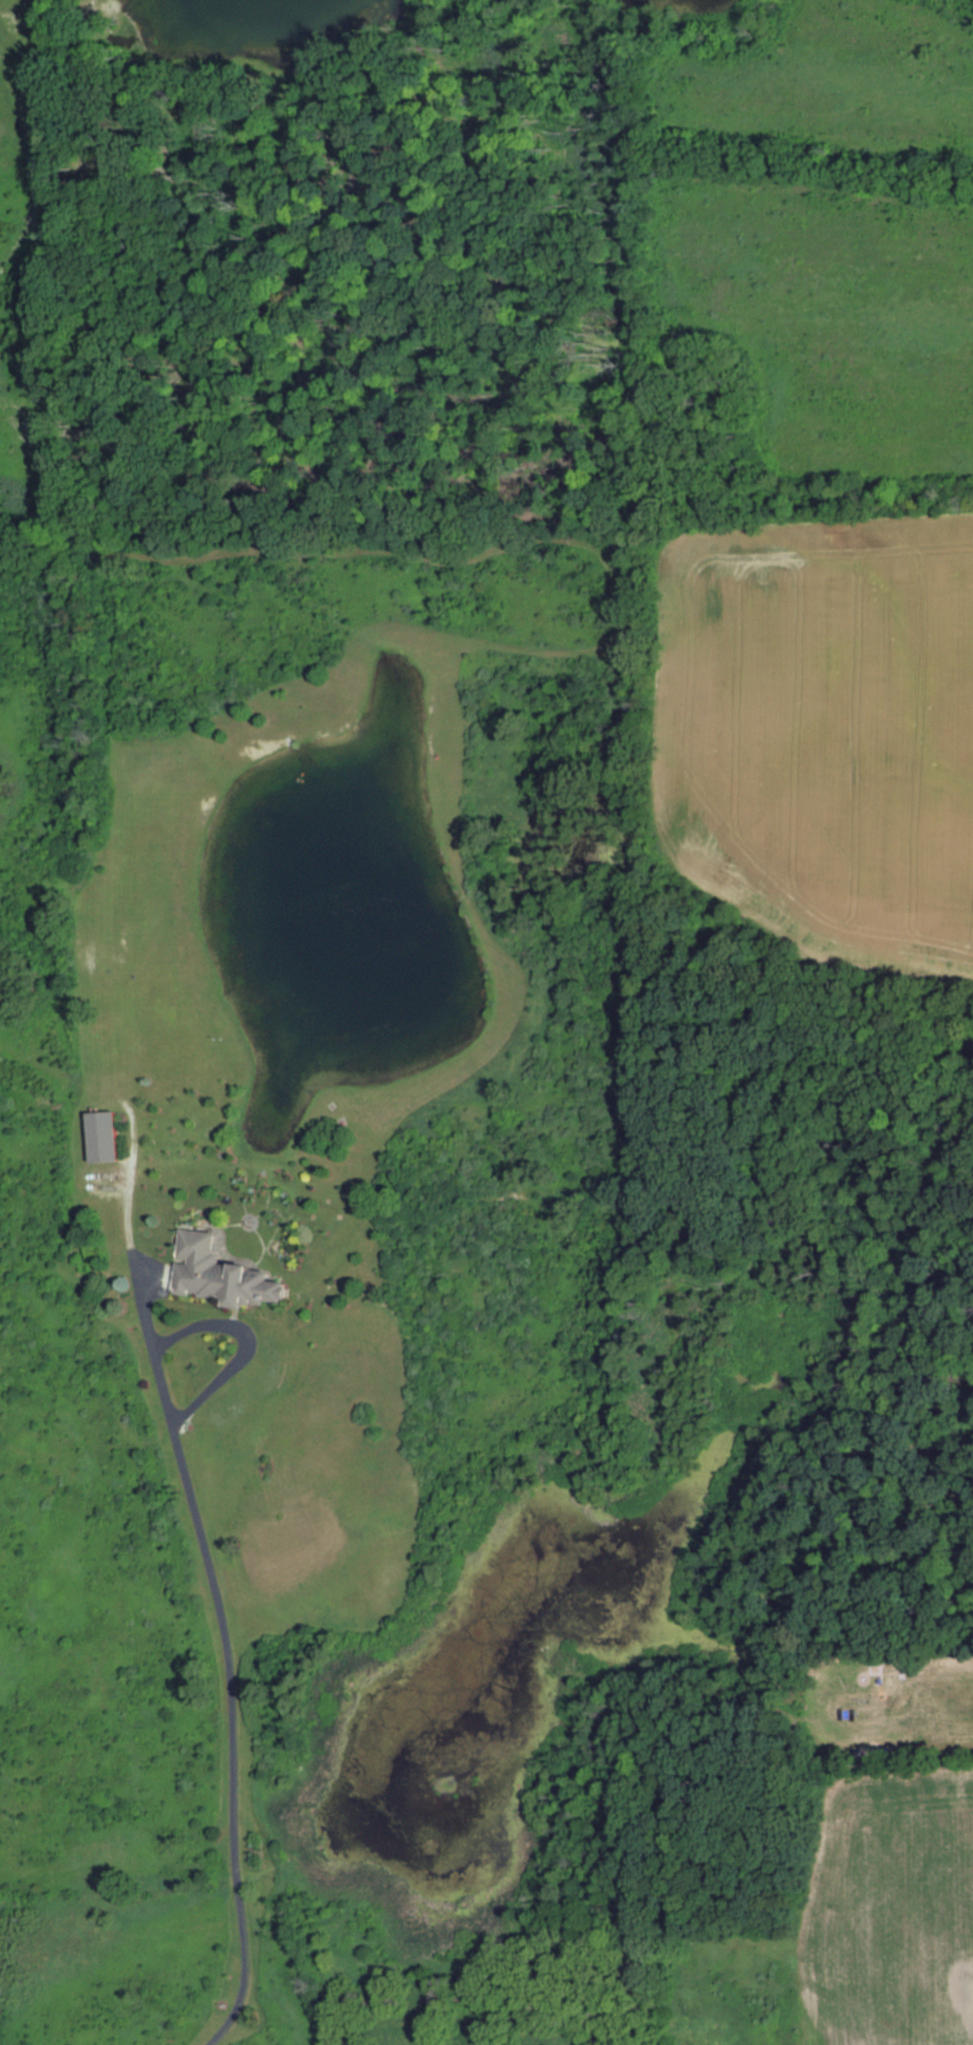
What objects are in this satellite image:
building: (101, 1136)
building: (218, 1270)
road: (220, 1324)
road: (233, 1734)

